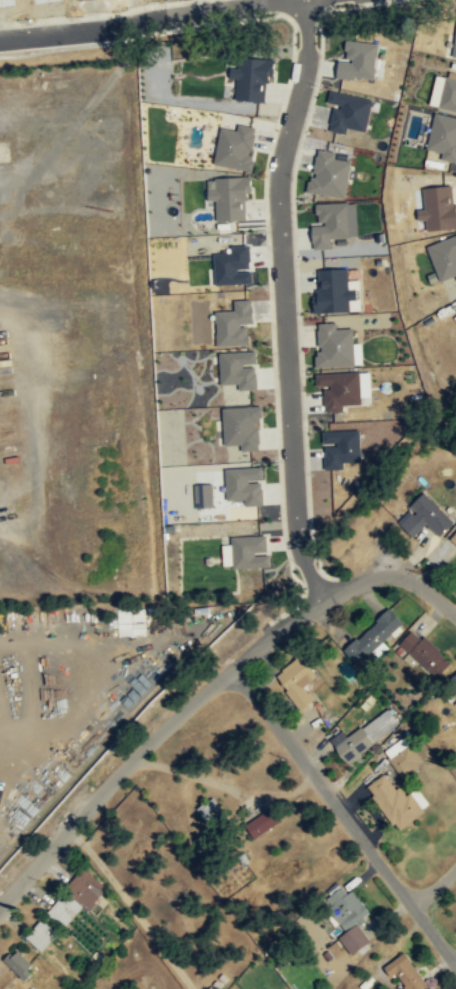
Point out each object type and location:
road: (155, 23)
building: (361, 60)
building: (254, 76)
building: (445, 92)
building: (351, 111)
building: (444, 135)
building: (237, 146)
building: (332, 173)
building: (231, 195)
building: (440, 206)
building: (333, 223)
building: (445, 256)
building: (235, 265)
building: (335, 291)
road: (282, 303)
building: (236, 323)
building: (336, 345)
building: (240, 368)
building: (341, 389)
building: (244, 426)
building: (342, 447)
building: (247, 484)
building: (205, 494)
building: (427, 515)
building: (454, 536)
building: (251, 551)
building: (228, 554)
road: (428, 592)
building: (375, 637)
building: (427, 653)
building: (298, 680)
building: (455, 701)
road: (179, 714)
building: (366, 734)
building: (403, 756)
building: (396, 801)
building: (213, 812)
road: (345, 817)
building: (265, 821)
building: (89, 887)
road: (434, 887)
building: (356, 939)
building: (20, 963)
building: (408, 972)

